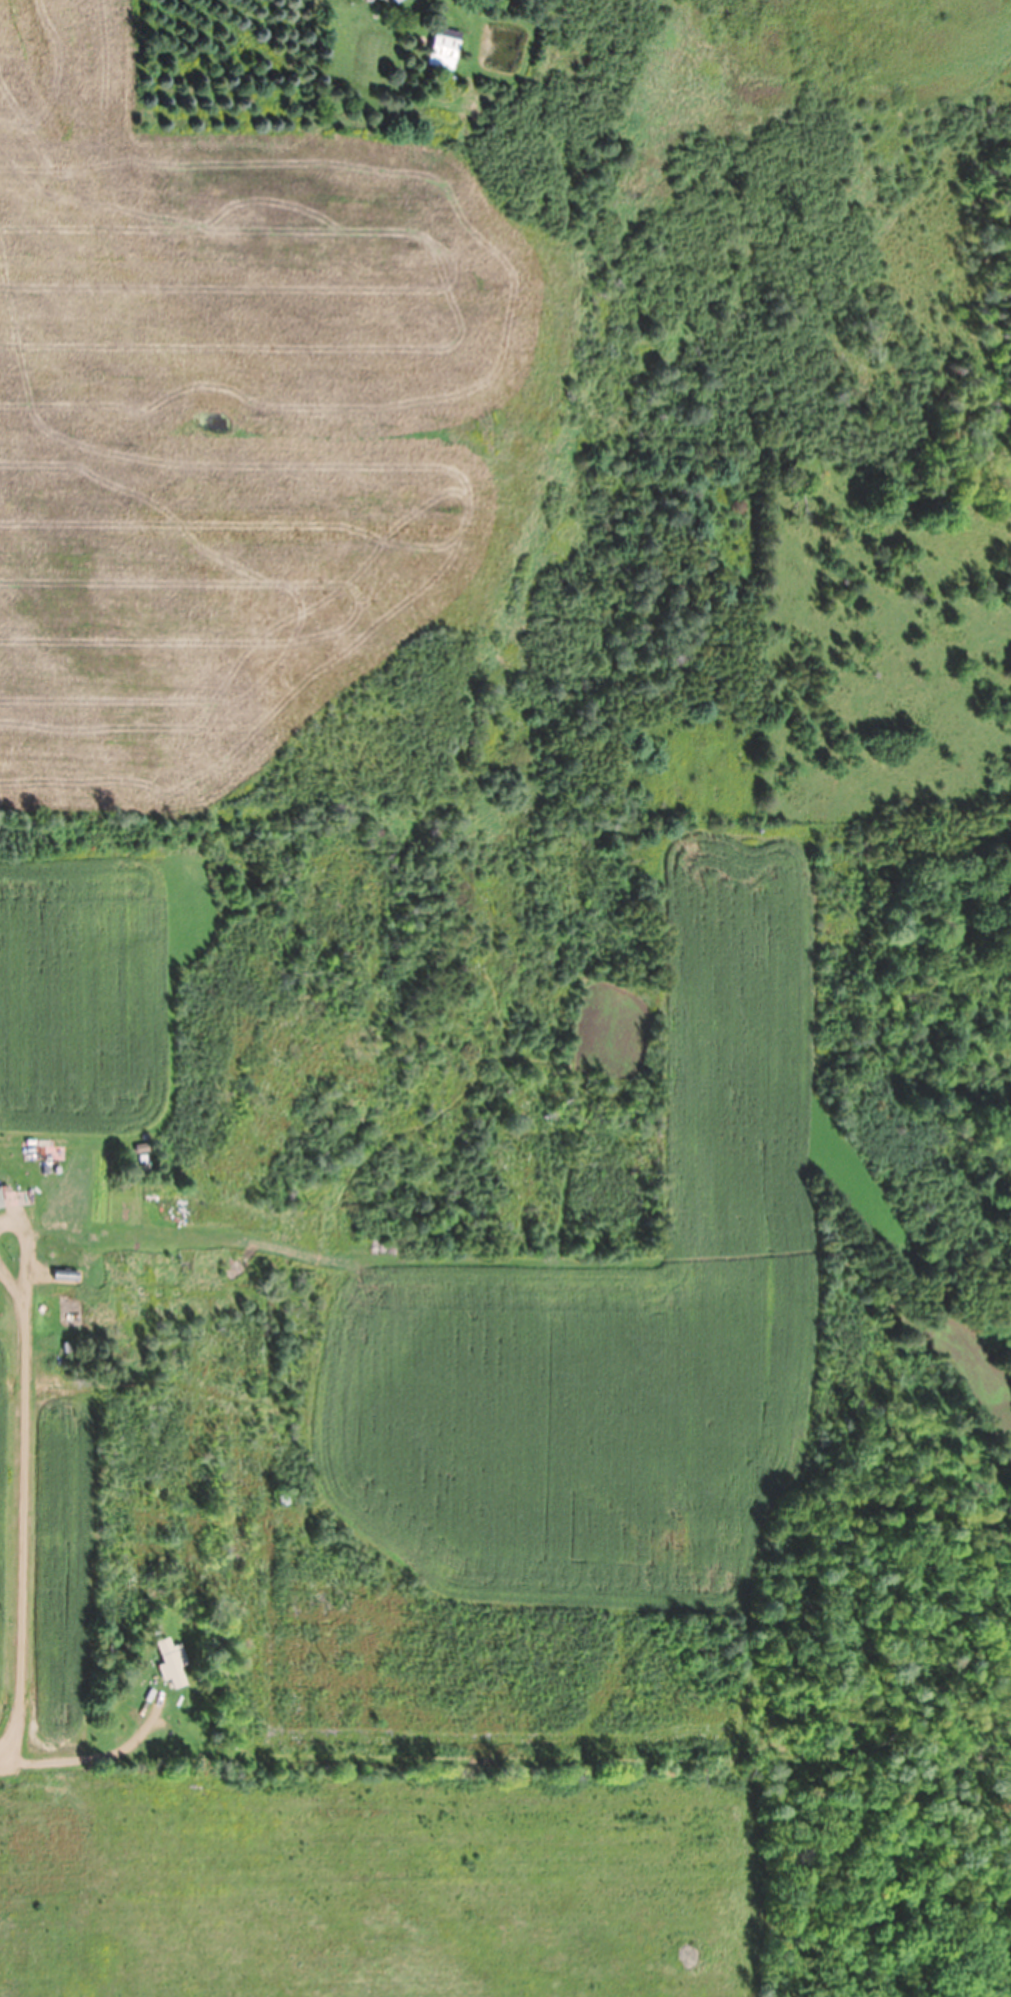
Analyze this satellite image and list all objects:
building: (395, 1)
building: (444, 51)
building: (1, 1199)
road: (27, 1500)
building: (173, 1664)

